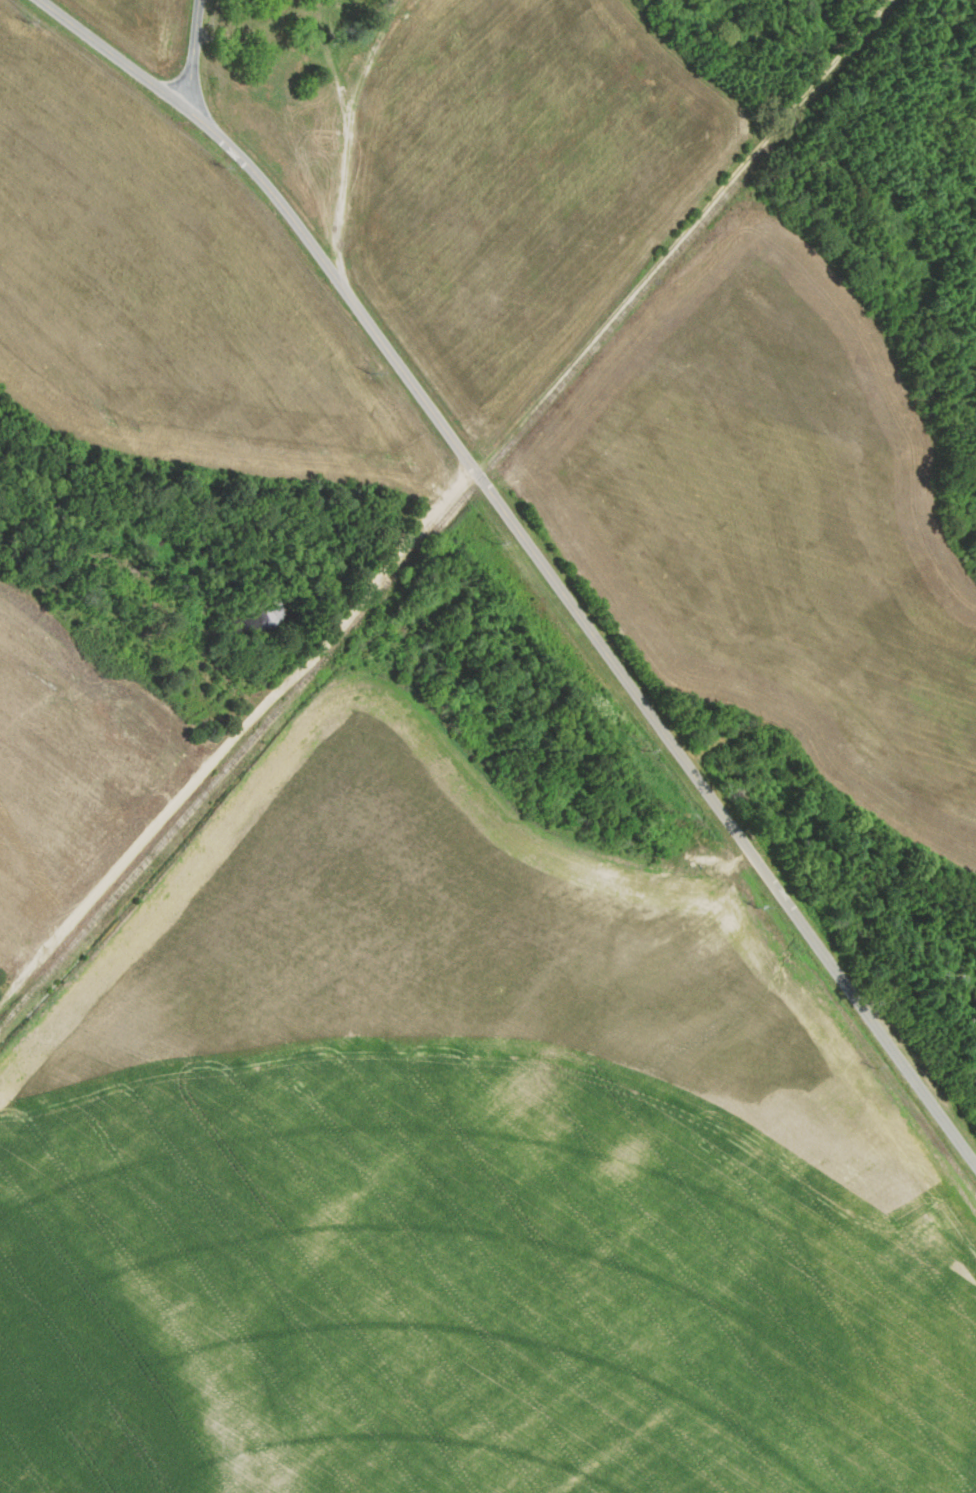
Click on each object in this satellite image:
road: (193, 54)
railway: (445, 515)
road: (537, 555)

